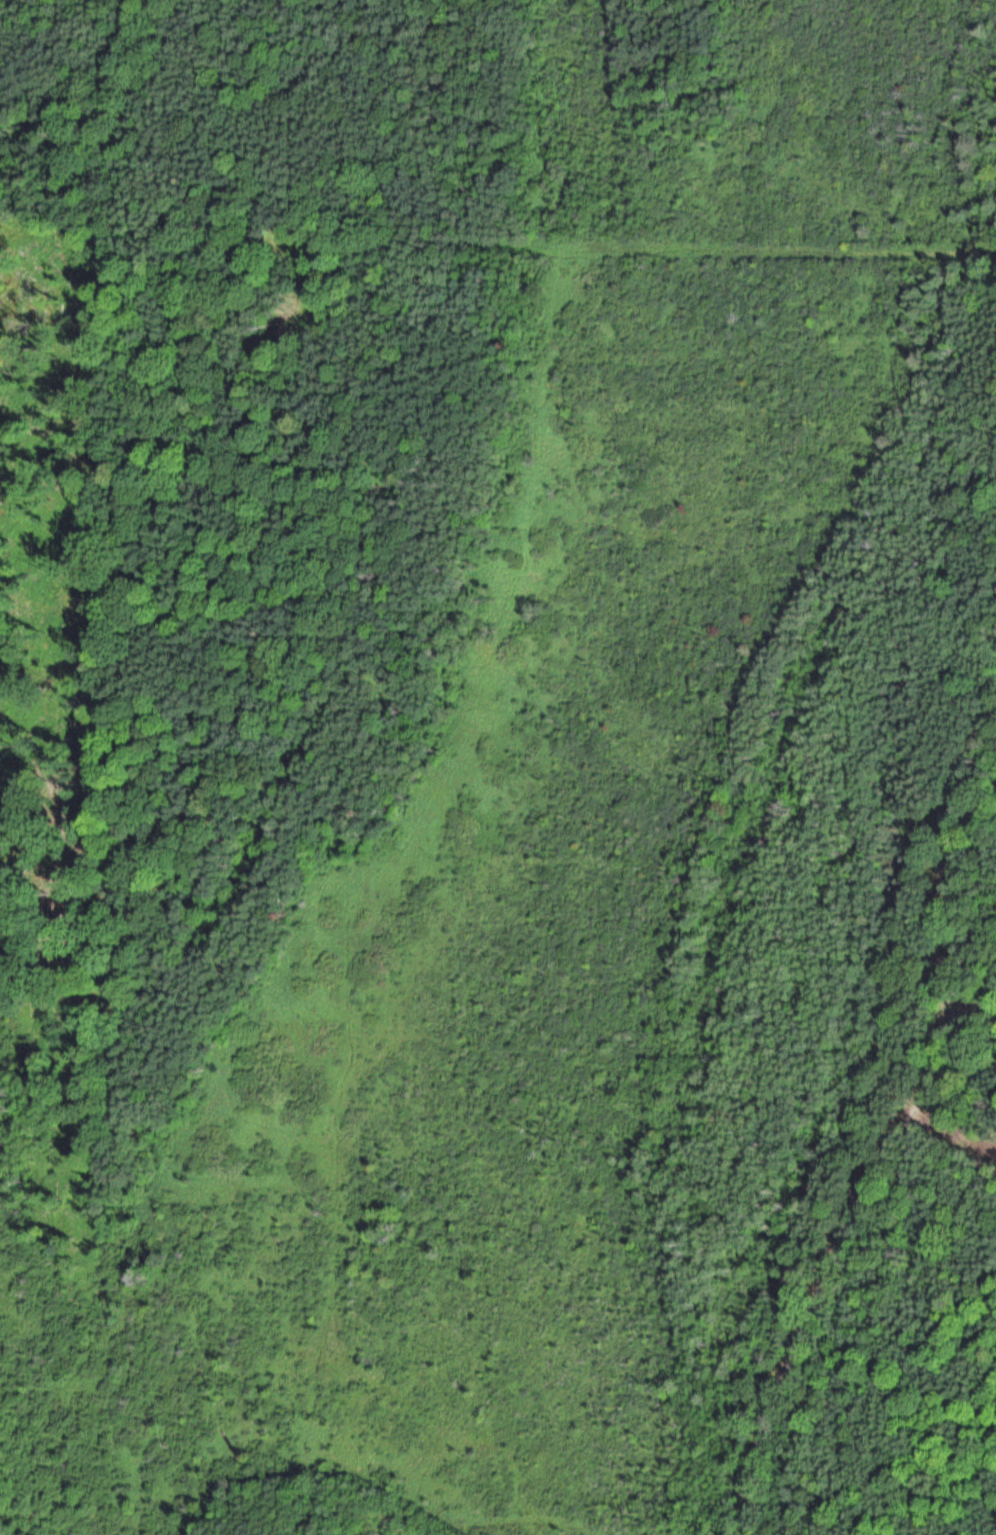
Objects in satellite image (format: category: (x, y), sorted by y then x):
road: (834, 1253)

